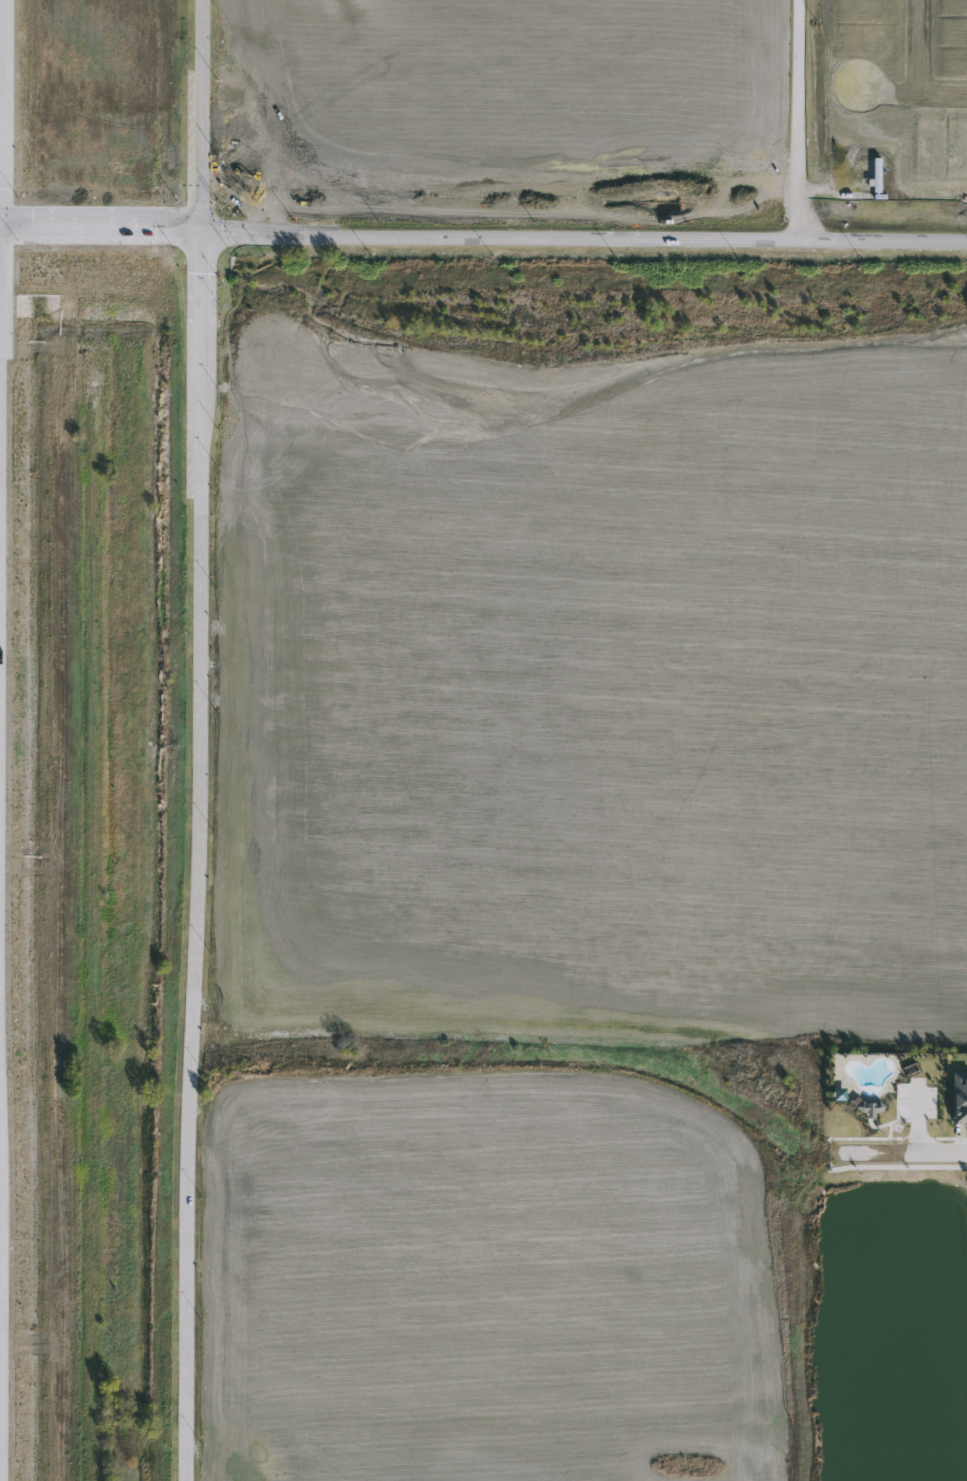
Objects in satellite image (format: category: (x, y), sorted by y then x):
road: (919, 45)
road: (910, 89)
road: (199, 110)
road: (799, 122)
traffic signals: (199, 222)
road: (482, 240)
road: (199, 301)
road: (196, 931)
road: (898, 1153)
road: (898, 1166)
road: (0, 1205)

